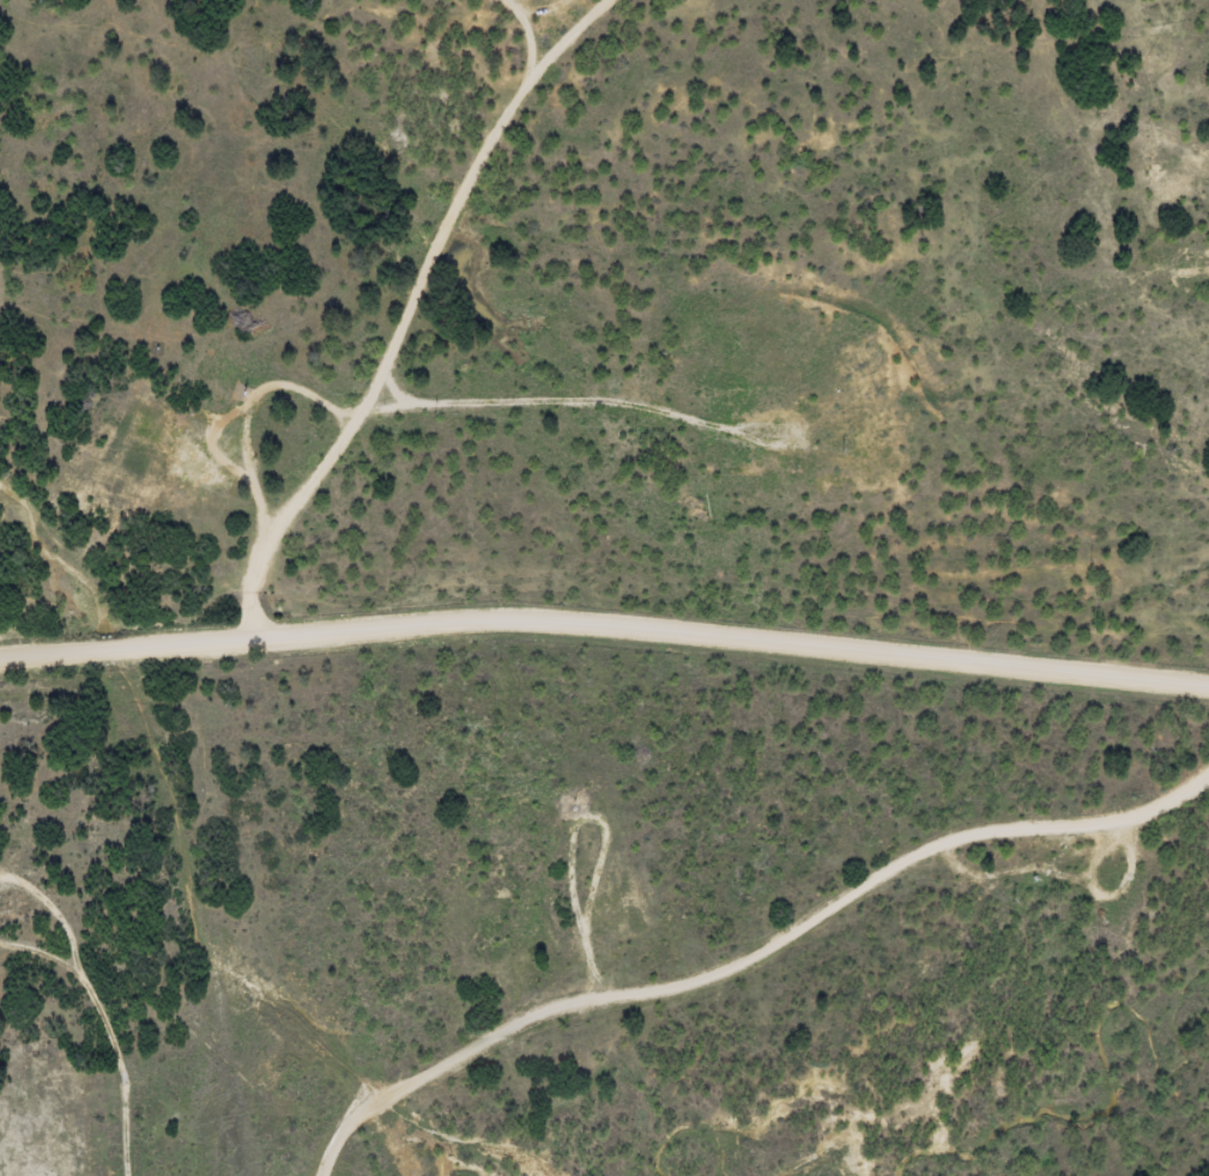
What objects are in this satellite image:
road: (605, 623)
road: (785, 970)

